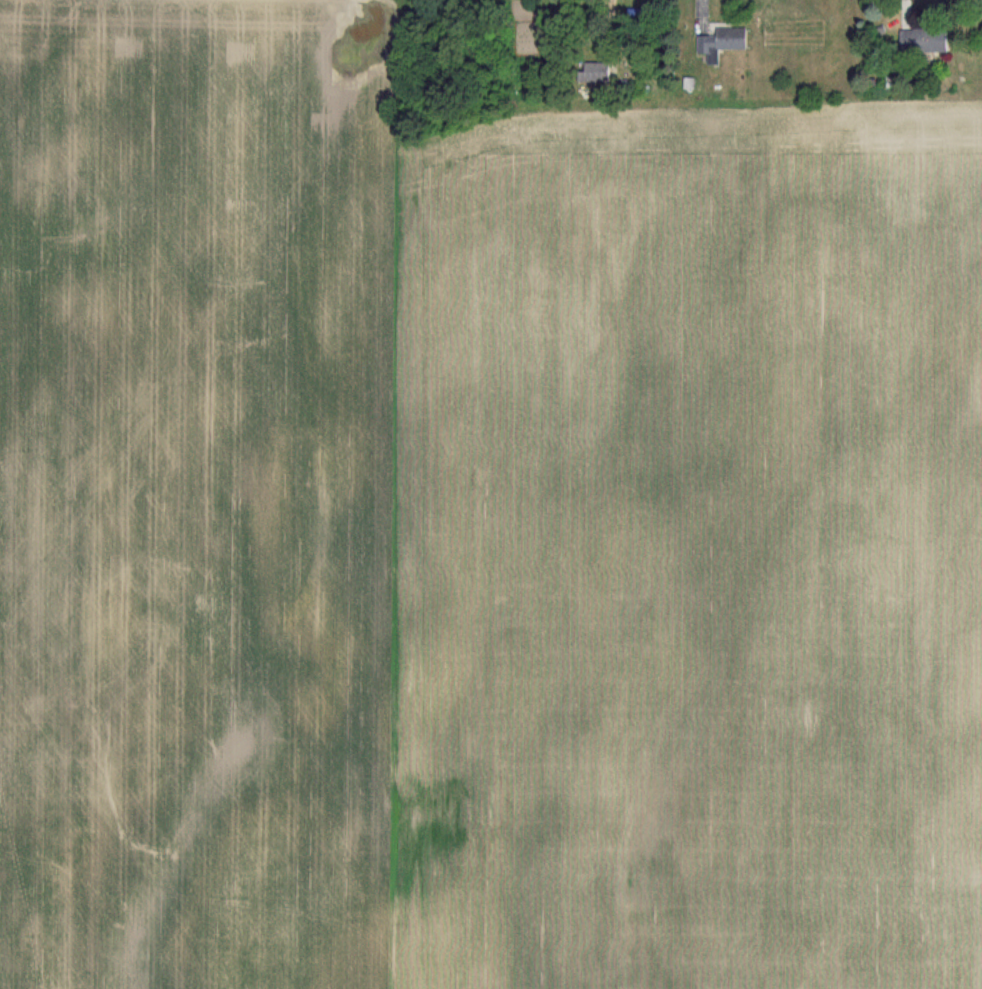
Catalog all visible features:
building: (919, 39)
building: (718, 42)
building: (591, 71)

